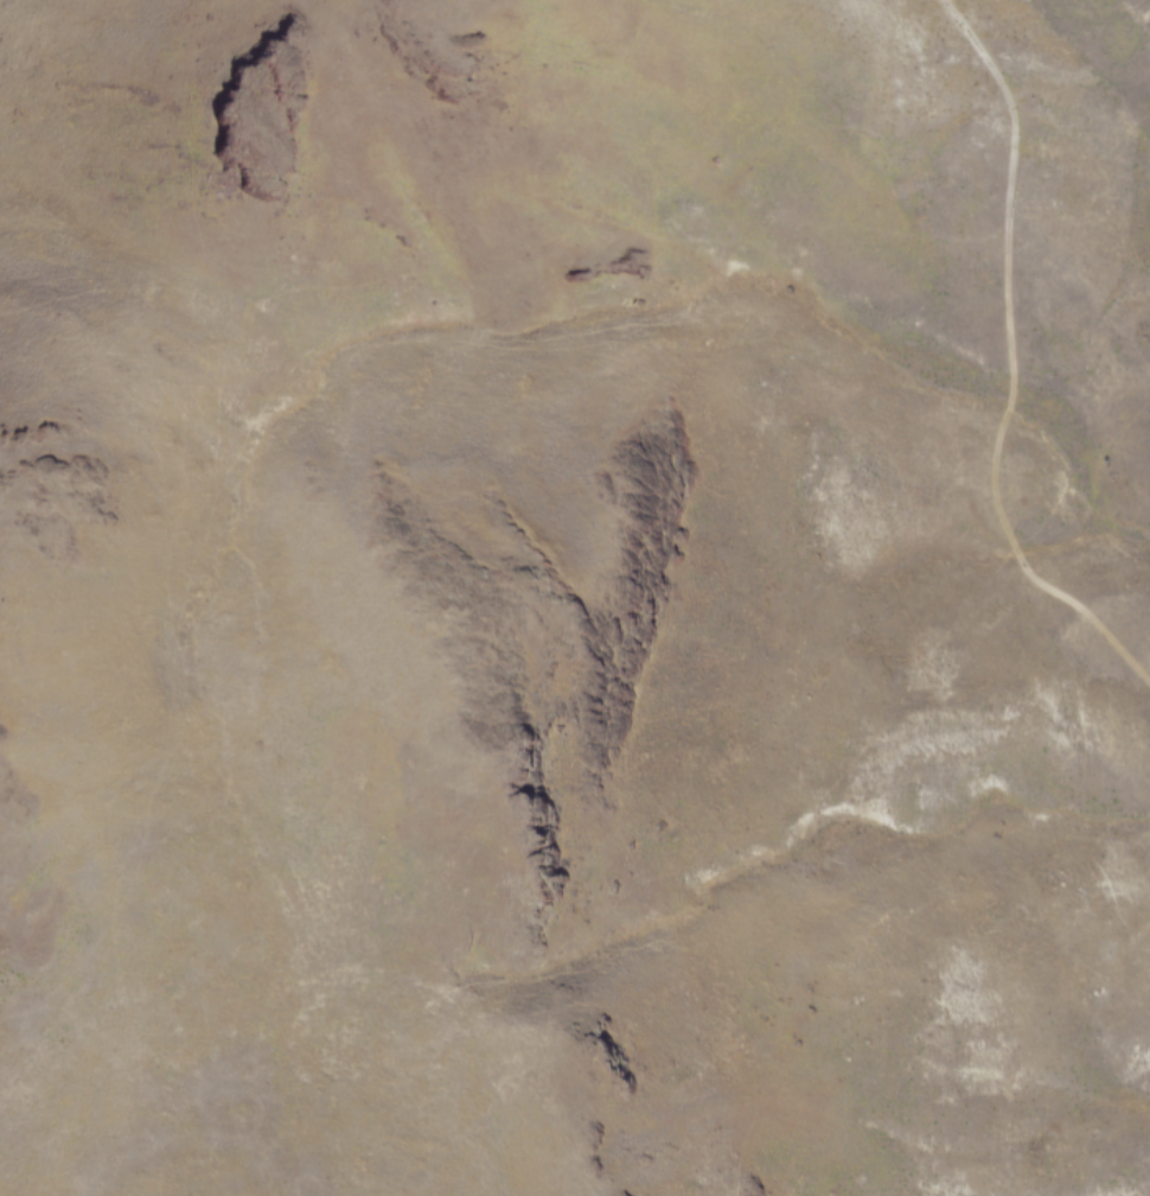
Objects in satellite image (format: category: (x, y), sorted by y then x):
road: (1012, 362)

